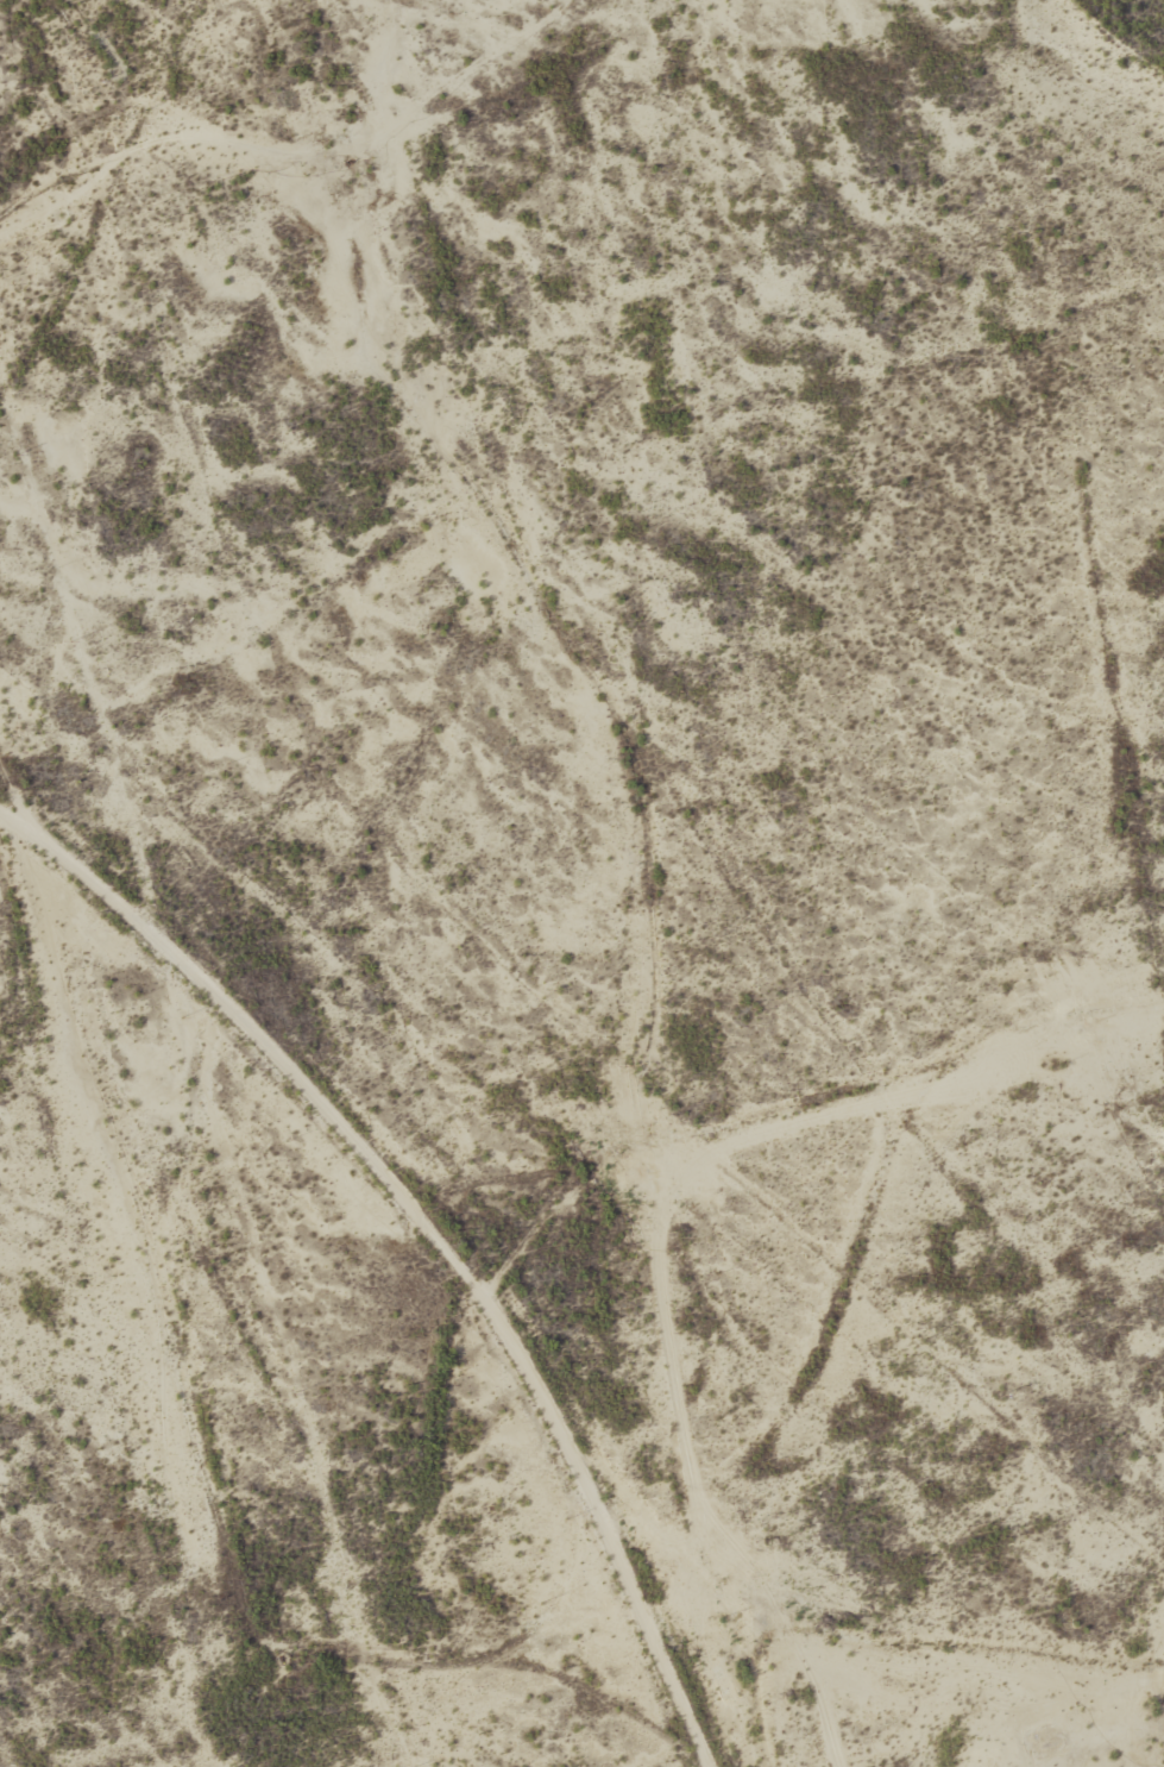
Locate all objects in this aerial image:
road: (277, 149)
road: (19, 796)
road: (792, 1101)
road: (430, 1235)

